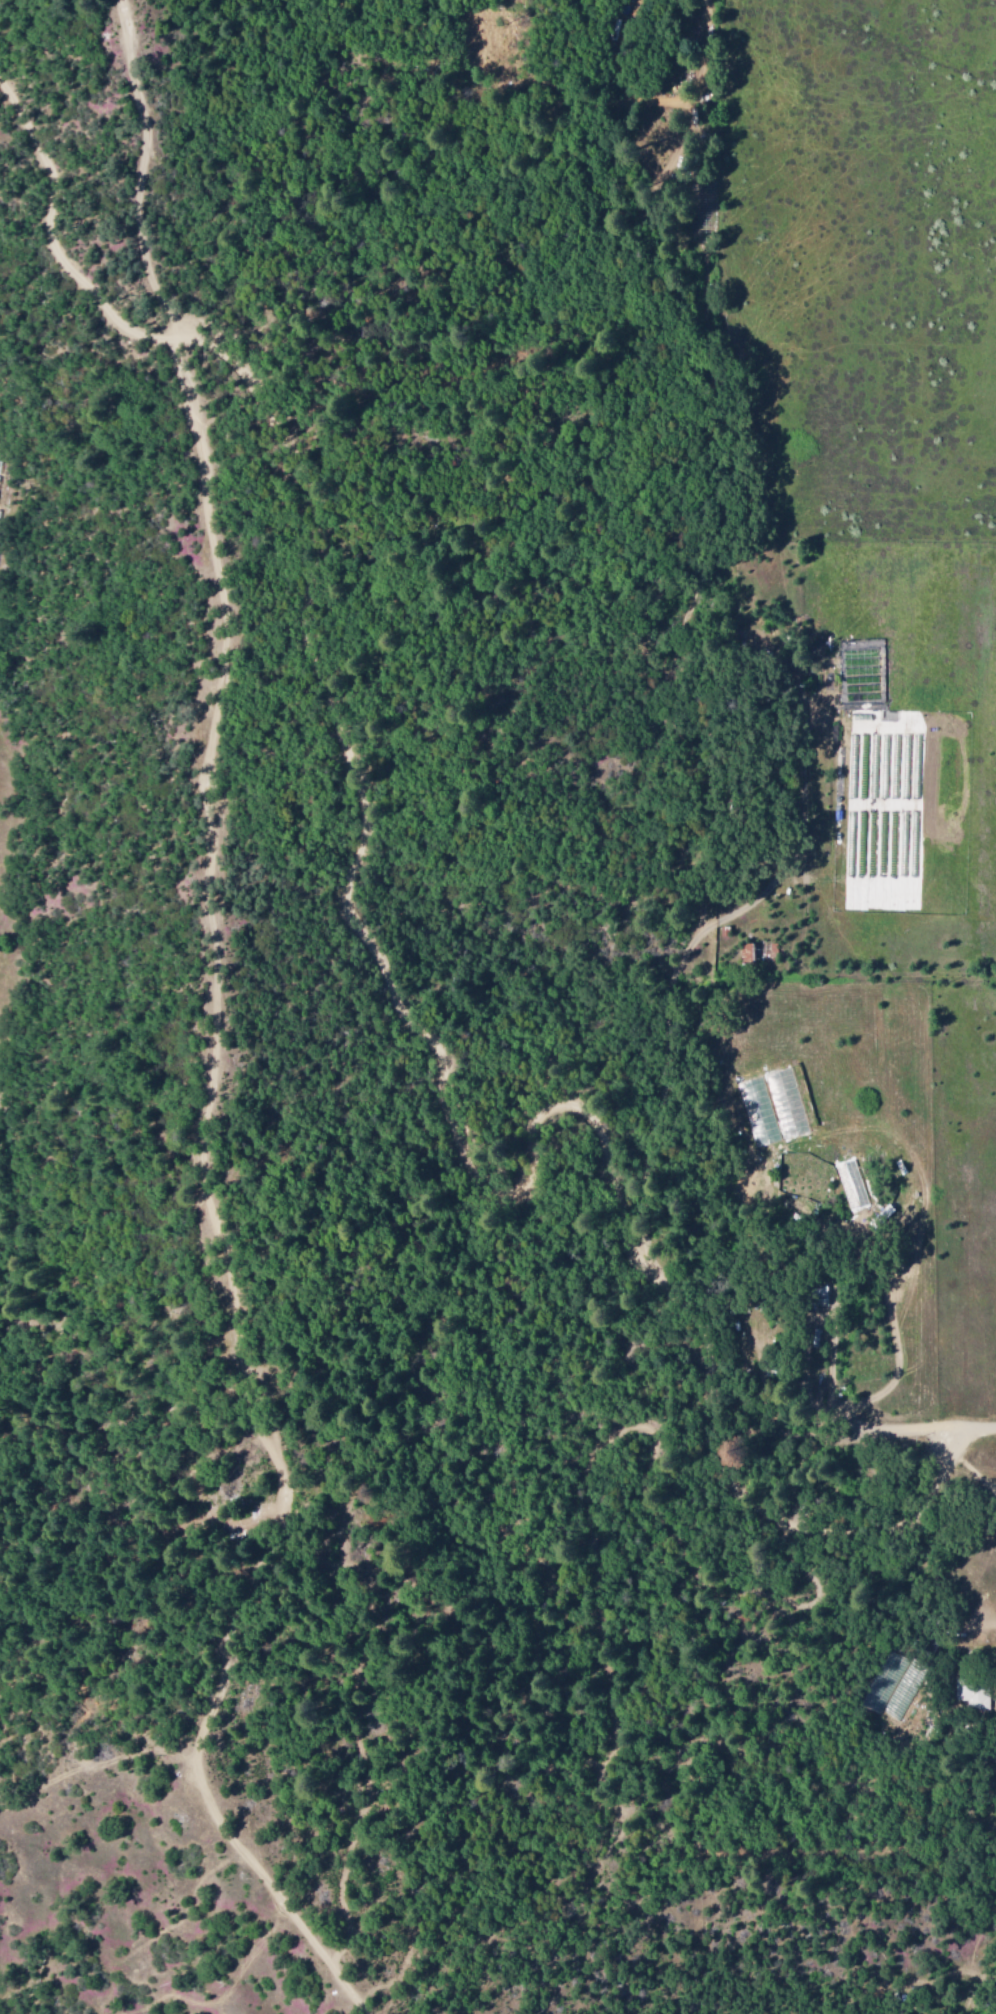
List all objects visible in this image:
road: (608, 78)
road: (713, 151)
road: (176, 324)
road: (211, 790)
building: (747, 953)
road: (473, 1157)
road: (919, 1429)
road: (971, 1462)
road: (229, 1651)
building: (970, 1694)

